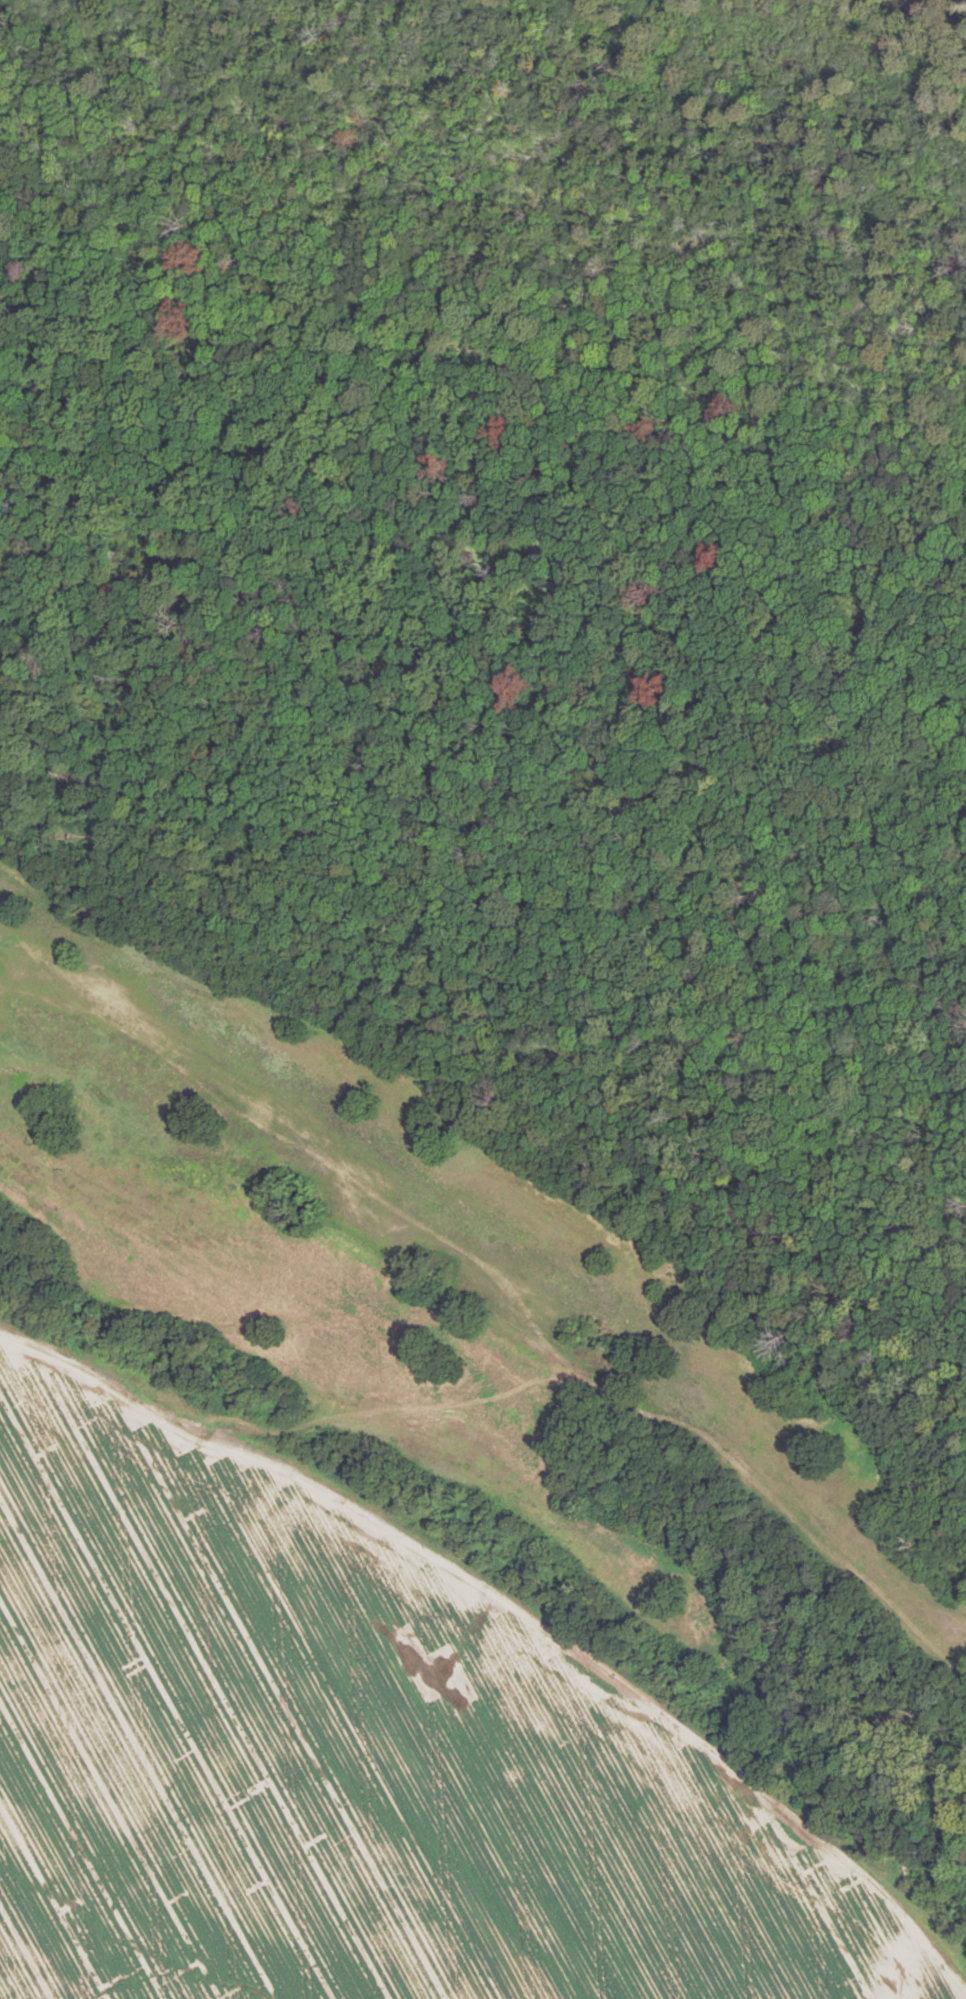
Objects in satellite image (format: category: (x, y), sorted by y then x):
road: (509, 1598)

